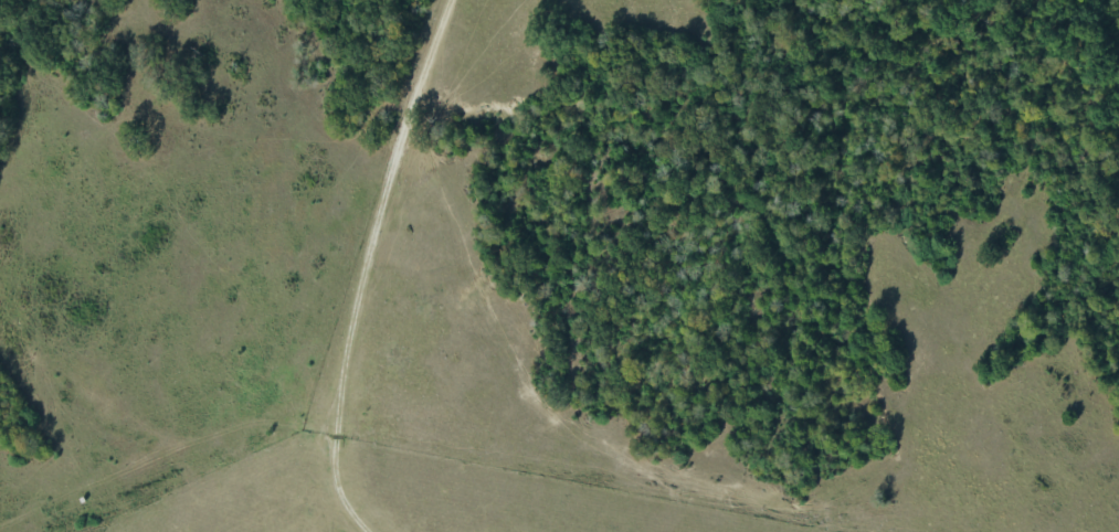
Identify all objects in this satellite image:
road: (368, 267)

